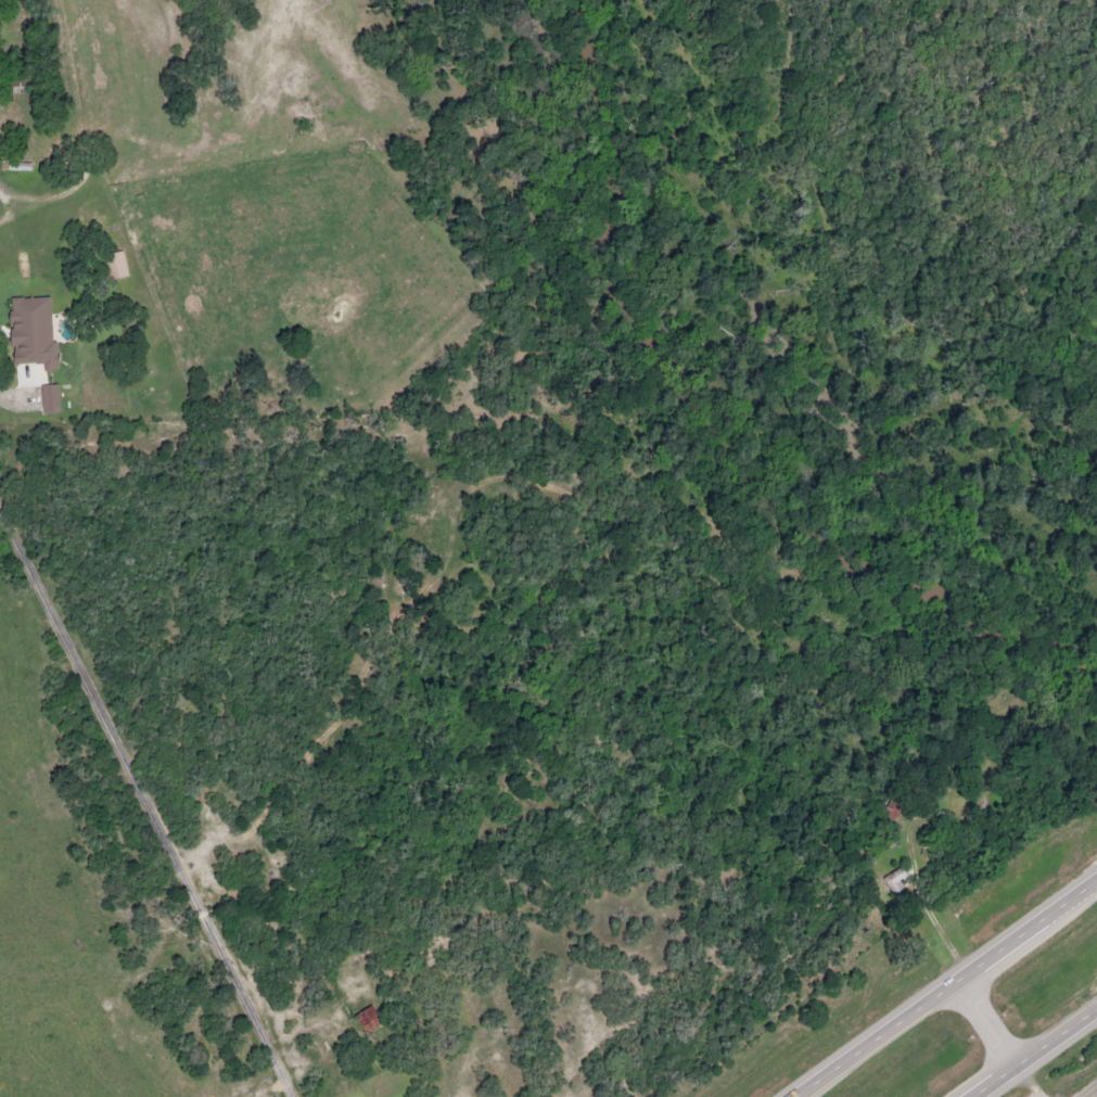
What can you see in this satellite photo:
road: (52, 195)
building: (113, 264)
building: (23, 347)
building: (47, 397)
river: (719, 436)
road: (148, 801)
building: (893, 880)
road: (952, 991)
building: (366, 1018)
road: (993, 1022)
road: (1034, 1053)
railway: (1088, 1090)

